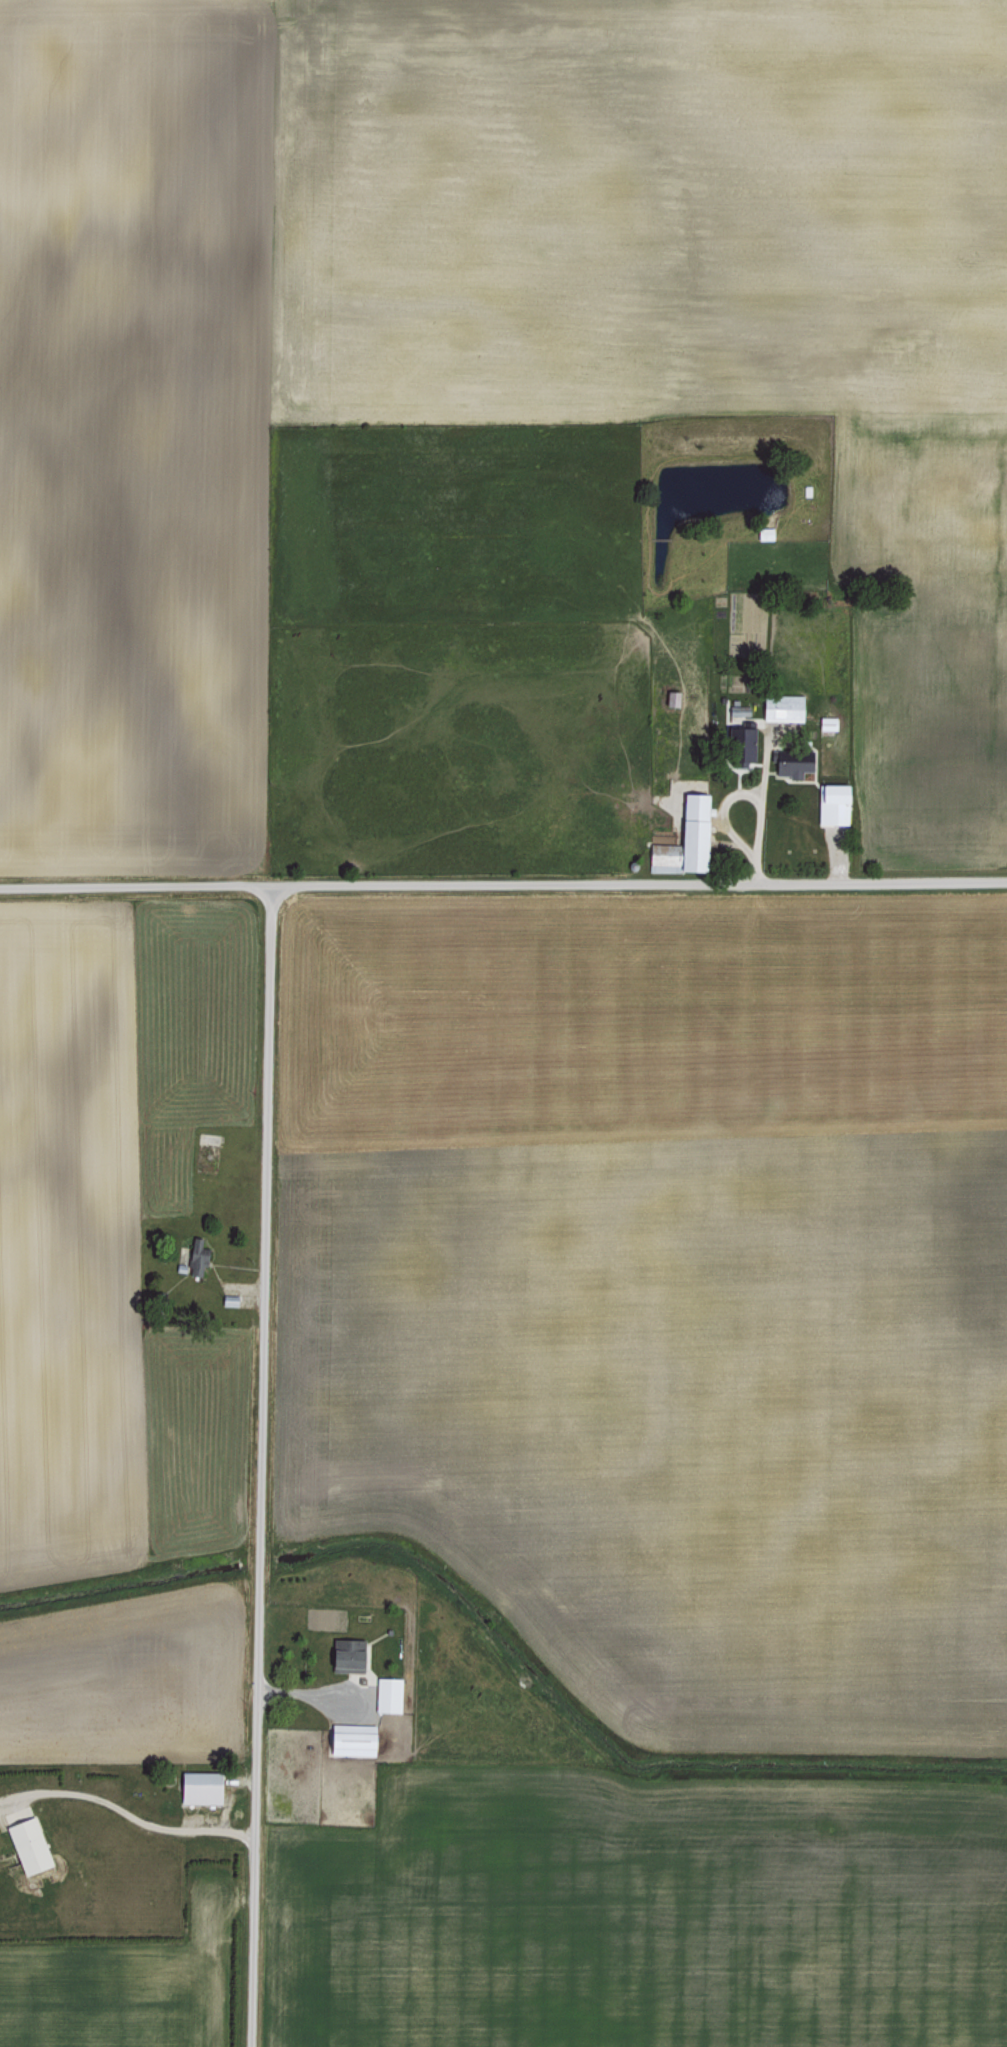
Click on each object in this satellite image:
building: (671, 698)
building: (781, 707)
building: (827, 723)
building: (737, 744)
building: (832, 804)
road: (757, 819)
building: (684, 839)
road: (503, 879)
building: (196, 1256)
road: (257, 1464)
building: (345, 1654)
road: (316, 1689)
building: (387, 1693)
building: (350, 1738)
building: (198, 1786)
road: (131, 1812)
building: (26, 1844)

